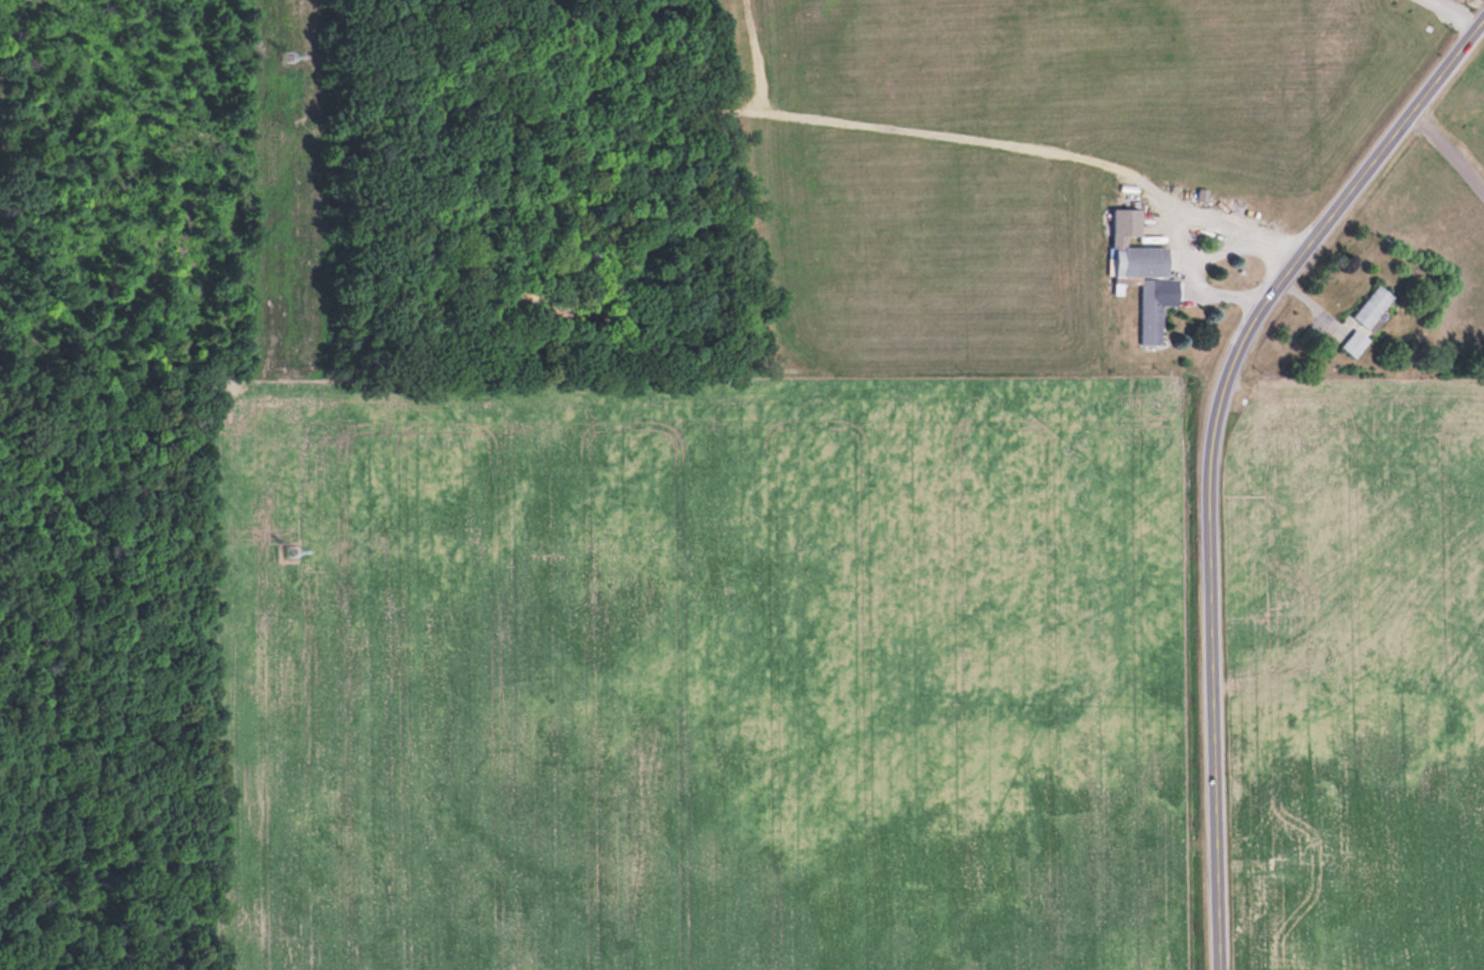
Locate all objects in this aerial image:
road: (1446, 57)
power tower: (295, 59)
road: (1447, 142)
building: (1145, 286)
road: (1267, 287)
building: (1373, 305)
building: (1355, 342)
power tower: (295, 553)
road: (1210, 738)

